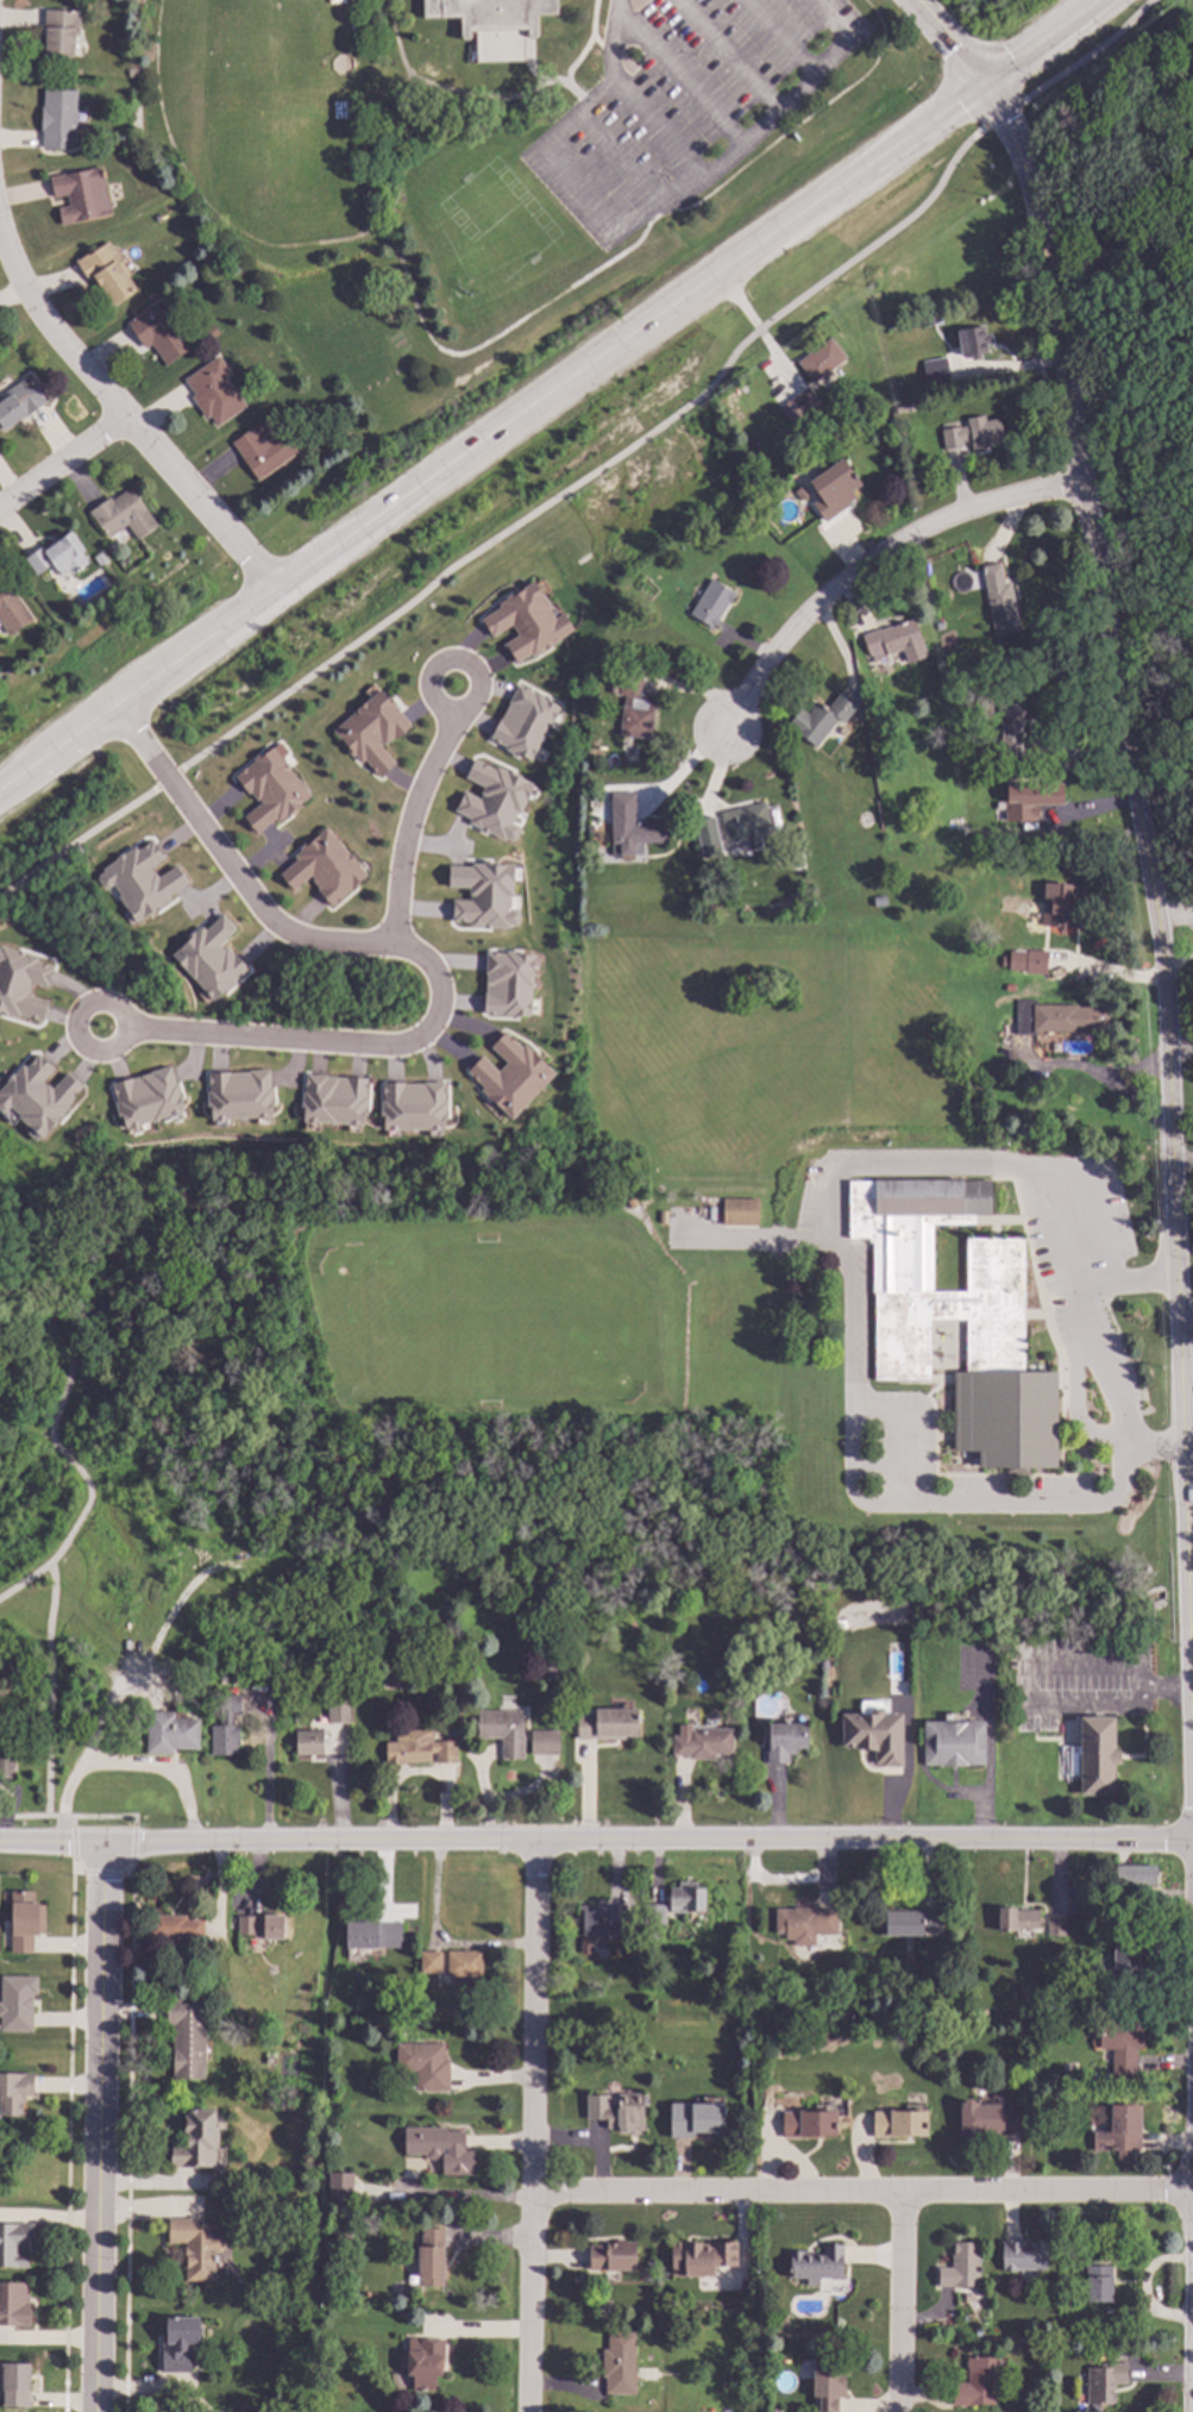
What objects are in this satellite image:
building: (494, 24)
building: (59, 33)
road: (777, 37)
road: (952, 38)
road: (1040, 42)
park: (278, 52)
road: (729, 52)
road: (1087, 55)
road: (678, 71)
building: (132, 73)
road: (490, 95)
road: (1000, 114)
building: (58, 119)
road: (658, 120)
road: (623, 159)
building: (81, 196)
road: (649, 213)
building: (106, 275)
building: (930, 319)
park: (1123, 325)
building: (161, 334)
road: (629, 334)
building: (973, 344)
road: (470, 347)
building: (821, 364)
building: (936, 374)
building: (900, 391)
building: (214, 393)
building: (805, 401)
building: (20, 403)
building: (791, 407)
building: (903, 411)
road: (118, 416)
building: (335, 428)
building: (974, 434)
building: (748, 445)
building: (264, 451)
road: (61, 463)
road: (598, 466)
building: (834, 489)
building: (800, 494)
building: (123, 516)
building: (690, 535)
building: (58, 557)
building: (99, 559)
road: (871, 559)
building: (999, 601)
building: (711, 604)
building: (11, 612)
building: (525, 624)
building: (938, 626)
building: (896, 643)
road: (433, 672)
road: (138, 688)
building: (635, 710)
building: (985, 712)
building: (821, 720)
building: (522, 723)
building: (372, 732)
building: (1018, 737)
building: (601, 757)
building: (987, 760)
road: (685, 765)
road: (167, 778)
building: (270, 790)
building: (1029, 800)
building: (492, 801)
building: (746, 823)
road: (410, 825)
building: (630, 828)
road: (76, 839)
building: (707, 839)
building: (795, 854)
building: (324, 869)
building: (140, 881)
building: (483, 895)
road: (1153, 903)
building: (1062, 907)
road: (407, 953)
building: (211, 958)
building: (1024, 961)
building: (21, 984)
building: (507, 984)
building: (1010, 989)
building: (1056, 1019)
road: (76, 1020)
road: (1145, 1067)
road: (1098, 1075)
building: (513, 1078)
building: (239, 1095)
building: (36, 1097)
building: (146, 1097)
building: (333, 1100)
building: (413, 1107)
building: (632, 1203)
building: (739, 1213)
road: (836, 1227)
road: (758, 1235)
road: (26, 1259)
road: (1125, 1282)
road: (24, 1296)
building: (954, 1317)
road: (64, 1456)
building: (182, 1464)
park: (1189, 1504)
building: (230, 1572)
building: (385, 1635)
building: (824, 1666)
building: (554, 1672)
road: (1138, 1674)
building: (224, 1680)
building: (394, 1681)
road: (1172, 1684)
road: (1028, 1686)
road: (50, 1689)
building: (734, 1690)
road: (1139, 1696)
building: (338, 1712)
building: (605, 1724)
building: (226, 1728)
building: (503, 1733)
building: (170, 1735)
building: (874, 1735)
building: (542, 1742)
building: (785, 1742)
building: (309, 1743)
building: (954, 1743)
building: (703, 1744)
building: (419, 1749)
building: (1095, 1755)
building: (6, 1768)
road: (109, 1815)
road: (42, 1816)
road: (596, 1837)
road: (73, 1842)
road: (132, 1843)
road: (101, 1872)
building: (1135, 1875)
building: (686, 1899)
building: (654, 1916)
building: (1016, 1921)
building: (23, 1922)
building: (601, 1922)
building: (805, 1922)
building: (908, 1923)
building: (260, 1927)
building: (1056, 1928)
building: (174, 1929)
building: (372, 1938)
building: (431, 1963)
building: (464, 1967)
building: (1126, 1967)
building: (199, 1985)
building: (1047, 1993)
building: (17, 2003)
building: (307, 2003)
building: (187, 2037)
building: (1120, 2044)
building: (425, 2066)
building: (14, 2092)
building: (614, 2115)
building: (695, 2120)
building: (990, 2120)
road: (538, 2125)
building: (808, 2125)
building: (899, 2125)
road: (98, 2126)
road: (68, 2134)
building: (1119, 2134)
road: (127, 2135)
building: (195, 2142)
building: (440, 2149)
building: (334, 2153)
building: (339, 2186)
road: (866, 2195)
building: (341, 2239)
building: (14, 2244)
building: (196, 2248)
building: (1067, 2254)
building: (611, 2256)
building: (701, 2256)
building: (1023, 2256)
building: (431, 2258)
building: (816, 2266)
building: (961, 2268)
building: (1098, 2285)
building: (278, 2286)
building: (985, 2298)
road: (902, 2304)
building: (13, 2305)
building: (673, 2320)
building: (178, 2343)
building: (1059, 2347)
building: (425, 2363)
building: (619, 2366)
road: (1192, 2373)
building: (1104, 2383)
building: (975, 2385)
building: (15, 2386)
building: (828, 2388)
building: (247, 2410)
building: (773, 2411)

